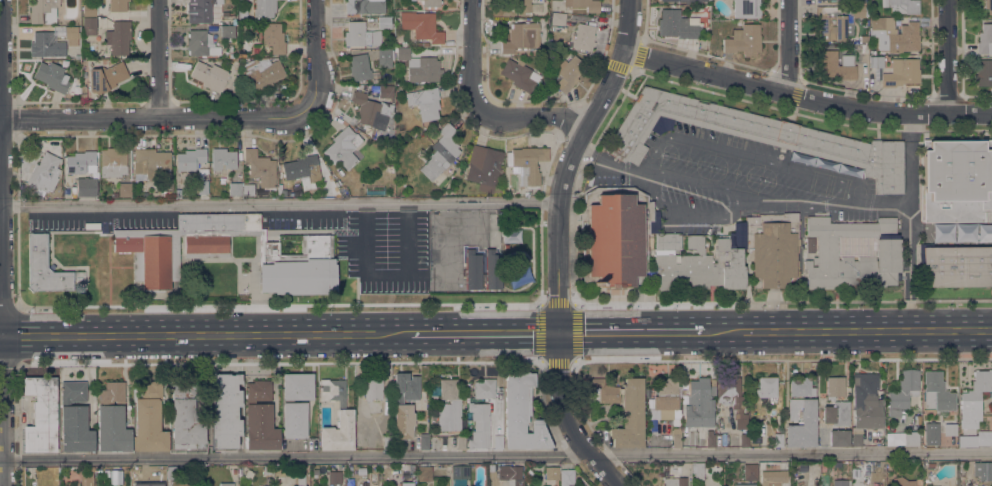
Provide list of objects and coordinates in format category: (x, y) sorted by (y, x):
building: (685, 1)
building: (857, 1)
building: (430, 3)
building: (584, 4)
building: (117, 5)
building: (363, 6)
building: (523, 6)
building: (902, 6)
building: (988, 6)
building: (264, 8)
building: (202, 9)
building: (748, 9)
building: (89, 10)
building: (43, 11)
building: (242, 14)
building: (557, 19)
building: (384, 22)
building: (836, 22)
building: (678, 25)
building: (89, 26)
building: (421, 26)
building: (227, 31)
building: (70, 32)
building: (360, 35)
building: (894, 35)
building: (118, 37)
building: (520, 37)
building: (583, 37)
building: (272, 39)
building: (864, 39)
building: (984, 39)
building: (743, 40)
building: (46, 44)
building: (200, 44)
road: (787, 46)
building: (864, 49)
building: (231, 53)
building: (240, 54)
road: (317, 54)
road: (952, 56)
building: (384, 58)
road: (160, 59)
road: (724, 60)
building: (876, 61)
building: (833, 66)
building: (359, 67)
building: (419, 67)
building: (901, 72)
building: (983, 72)
building: (568, 73)
building: (262, 74)
building: (518, 74)
building: (209, 75)
building: (51, 76)
building: (106, 77)
building: (384, 91)
building: (83, 92)
road: (805, 96)
building: (424, 102)
road: (480, 108)
building: (371, 110)
road: (157, 119)
building: (755, 135)
building: (343, 147)
building: (440, 153)
building: (189, 159)
building: (222, 160)
building: (79, 162)
building: (112, 162)
building: (149, 163)
building: (527, 164)
building: (483, 167)
road: (616, 167)
building: (260, 168)
building: (389, 169)
building: (303, 170)
building: (44, 172)
building: (956, 180)
building: (85, 186)
building: (203, 187)
building: (235, 189)
building: (248, 189)
building: (124, 190)
building: (286, 193)
building: (113, 195)
road: (753, 195)
road: (879, 200)
road: (279, 203)
road: (571, 204)
road: (910, 220)
building: (984, 232)
building: (964, 233)
building: (510, 235)
road: (1, 242)
road: (558, 244)
building: (810, 245)
building: (645, 246)
building: (771, 248)
building: (887, 248)
building: (155, 253)
building: (955, 266)
building: (44, 267)
building: (472, 269)
building: (492, 269)
road: (569, 302)
road: (279, 305)
road: (846, 328)
road: (482, 329)
traffic signals: (558, 329)
road: (629, 329)
road: (259, 333)
road: (55, 335)
road: (0, 336)
building: (297, 386)
building: (834, 387)
building: (484, 388)
building: (372, 389)
building: (766, 389)
building: (903, 392)
building: (937, 392)
building: (112, 393)
building: (666, 398)
building: (732, 398)
building: (974, 400)
building: (866, 401)
building: (699, 403)
building: (404, 405)
building: (448, 406)
building: (623, 409)
building: (225, 411)
building: (836, 413)
building: (521, 414)
building: (40, 415)
building: (801, 415)
building: (75, 418)
building: (186, 418)
building: (260, 418)
building: (345, 418)
building: (149, 419)
building: (294, 420)
building: (479, 425)
building: (113, 429)
building: (763, 429)
building: (950, 429)
building: (931, 433)
building: (676, 438)
building: (710, 438)
building: (838, 438)
building: (856, 438)
building: (911, 438)
building: (757, 439)
building: (975, 439)
building: (744, 440)
building: (778, 440)
building: (423, 441)
building: (497, 441)
building: (386, 442)
building: (461, 442)
road: (495, 456)
building: (931, 465)
building: (87, 468)
building: (404, 468)
building: (803, 468)
building: (982, 469)
building: (267, 470)
building: (697, 470)
building: (315, 471)
building: (174, 472)
building: (508, 472)
building: (750, 472)
building: (107, 473)
building: (424, 473)
building: (528, 473)
building: (551, 473)
building: (459, 474)
building: (334, 477)
building: (566, 477)
building: (773, 478)
building: (86, 479)
building: (300, 479)
building: (674, 481)
building: (901, 481)
building: (408, 483)
building: (840, 483)
building: (226, 484)
building: (744, 484)
building: (299, 485)
building: (546, 485)
building: (935, 485)

